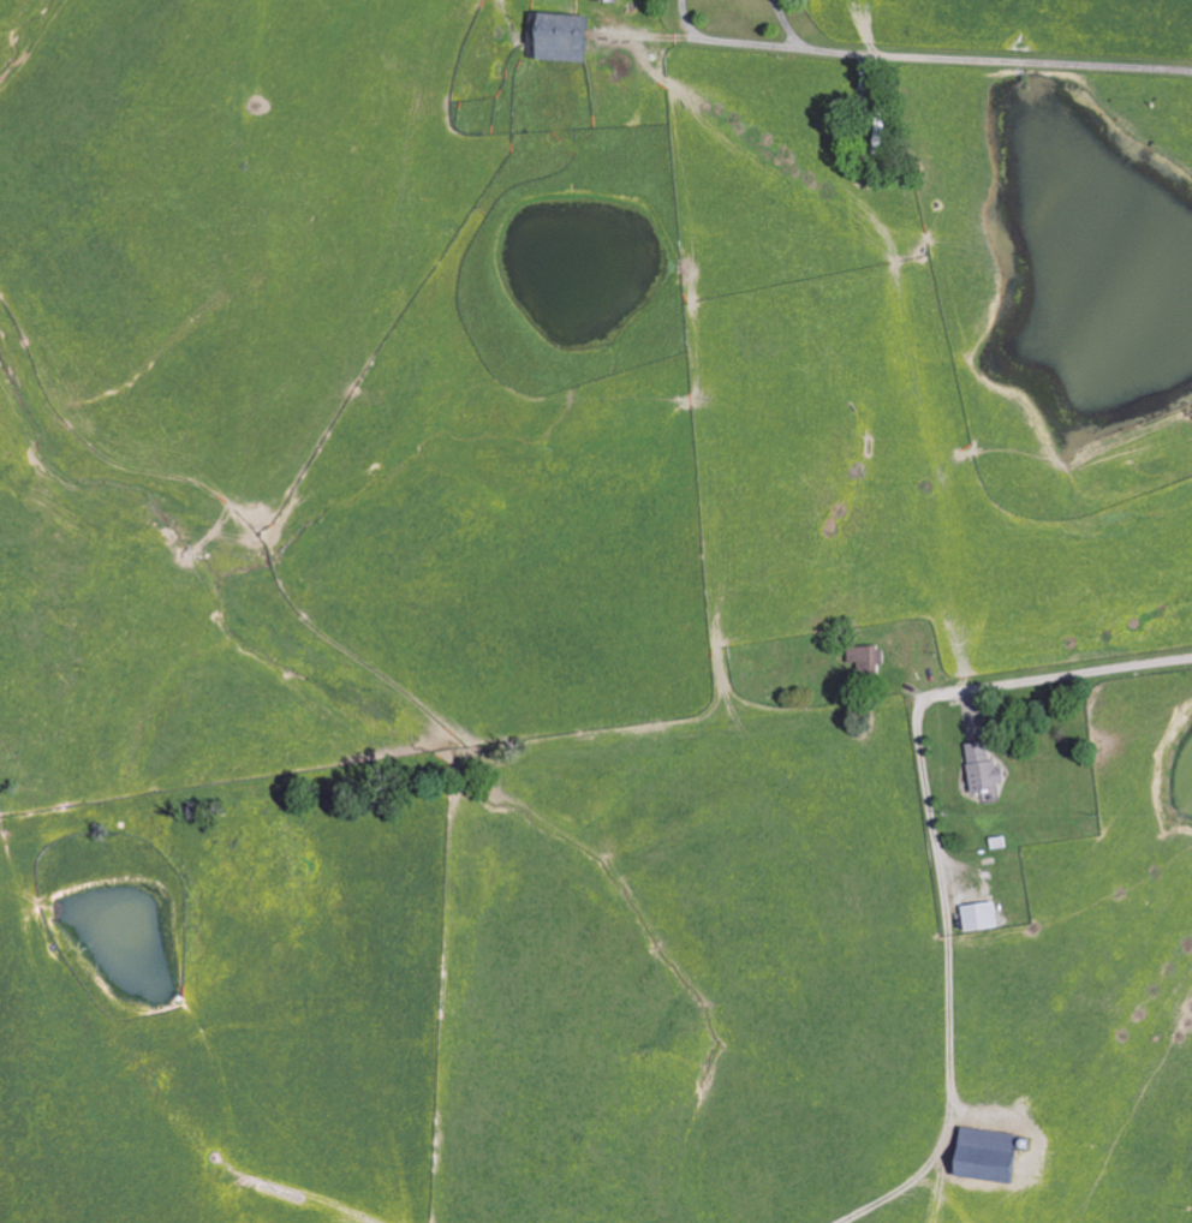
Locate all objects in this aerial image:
building: (614, 0)
road: (782, 24)
building: (567, 36)
road: (721, 41)
road: (994, 61)
building: (865, 661)
road: (1056, 679)
building: (981, 770)
building: (978, 918)
road: (946, 984)
building: (984, 1155)

